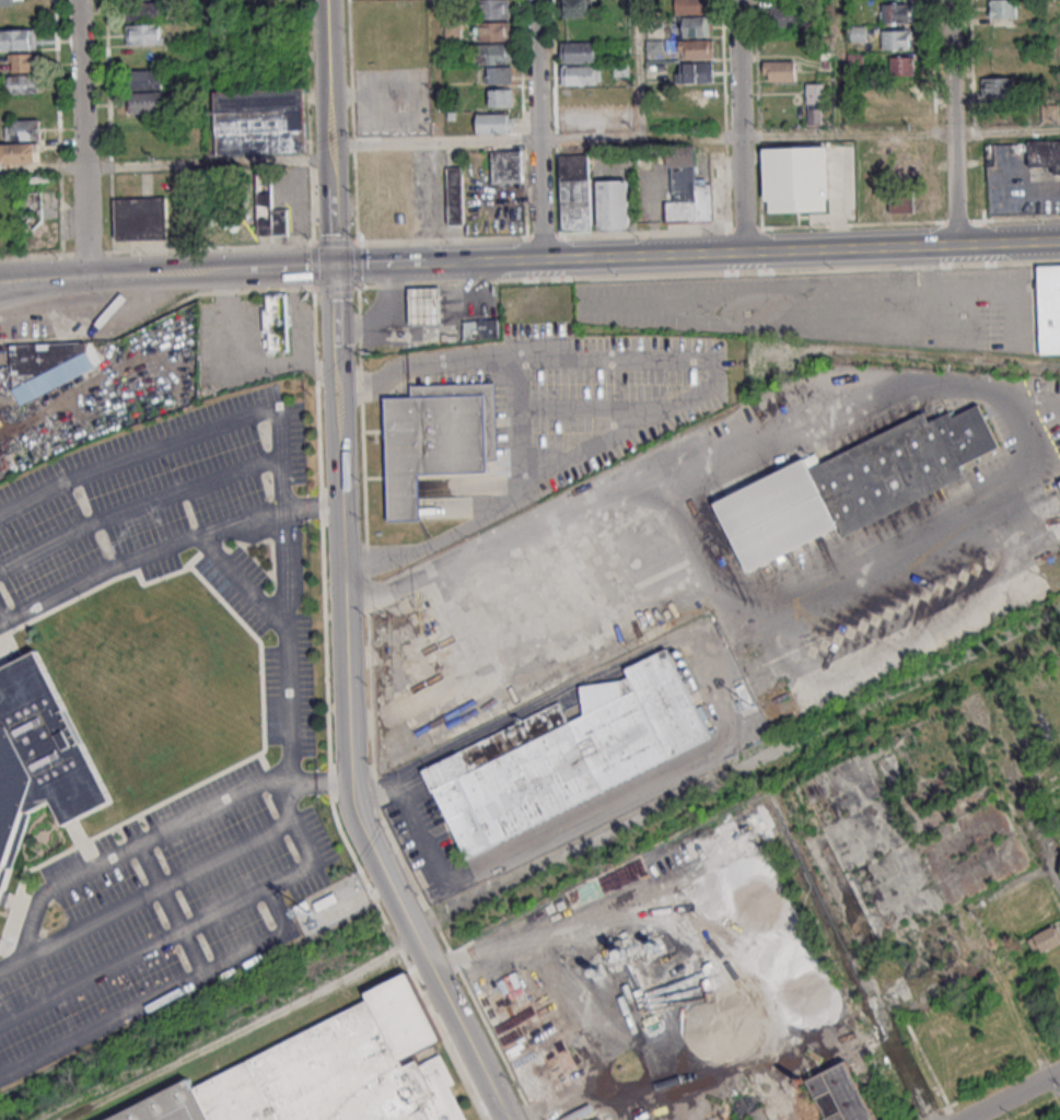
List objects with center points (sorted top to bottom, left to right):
building: (5, 2)
building: (690, 7)
building: (575, 8)
building: (1003, 8)
building: (492, 9)
building: (143, 10)
building: (895, 12)
building: (788, 15)
building: (696, 27)
building: (492, 32)
building: (855, 33)
building: (144, 34)
building: (18, 38)
building: (896, 38)
building: (697, 49)
building: (579, 51)
building: (22, 61)
building: (496, 61)
building: (901, 66)
road: (840, 67)
road: (636, 69)
road: (435, 71)
building: (778, 71)
road: (326, 72)
building: (696, 72)
building: (580, 74)
building: (145, 79)
road: (208, 81)
building: (20, 83)
building: (999, 85)
building: (904, 87)
building: (500, 96)
building: (145, 101)
building: (815, 103)
building: (19, 107)
building: (1050, 113)
building: (259, 121)
road: (356, 121)
building: (493, 122)
road: (951, 122)
road: (738, 126)
building: (22, 129)
road: (536, 130)
road: (1005, 130)
road: (640, 137)
road: (83, 139)
building: (19, 153)
building: (1045, 153)
road: (164, 164)
building: (506, 166)
building: (799, 176)
building: (685, 189)
building: (574, 191)
building: (455, 195)
building: (611, 203)
building: (901, 205)
road: (330, 206)
building: (32, 208)
building: (269, 212)
building: (140, 218)
building: (381, 220)
road: (1007, 243)
road: (679, 255)
road: (369, 266)
traffic signals: (334, 267)
road: (292, 269)
road: (148, 276)
road: (524, 279)
road: (23, 280)
road: (23, 289)
building: (428, 304)
building: (1051, 310)
building: (276, 322)
building: (484, 328)
road: (335, 336)
building: (48, 357)
road: (465, 361)
road: (943, 377)
road: (373, 378)
road: (161, 446)
building: (440, 454)
road: (528, 478)
building: (852, 489)
road: (163, 495)
road: (311, 509)
road: (389, 555)
road: (137, 557)
road: (243, 584)
road: (1, 619)
road: (289, 658)
parking lot: (287, 695)
building: (39, 758)
building: (569, 759)
road: (335, 779)
road: (350, 781)
road: (286, 784)
road: (1014, 789)
building: (606, 883)
road: (177, 907)
road: (31, 921)
road: (179, 933)
building: (1045, 938)
road: (271, 940)
road: (11, 960)
building: (816, 966)
building: (598, 993)
road: (105, 1023)
road: (887, 1038)
building: (524, 1039)
building: (601, 1062)
building: (329, 1072)
building: (839, 1094)
road: (1012, 1096)
building: (771, 1112)
building: (601, 1119)

